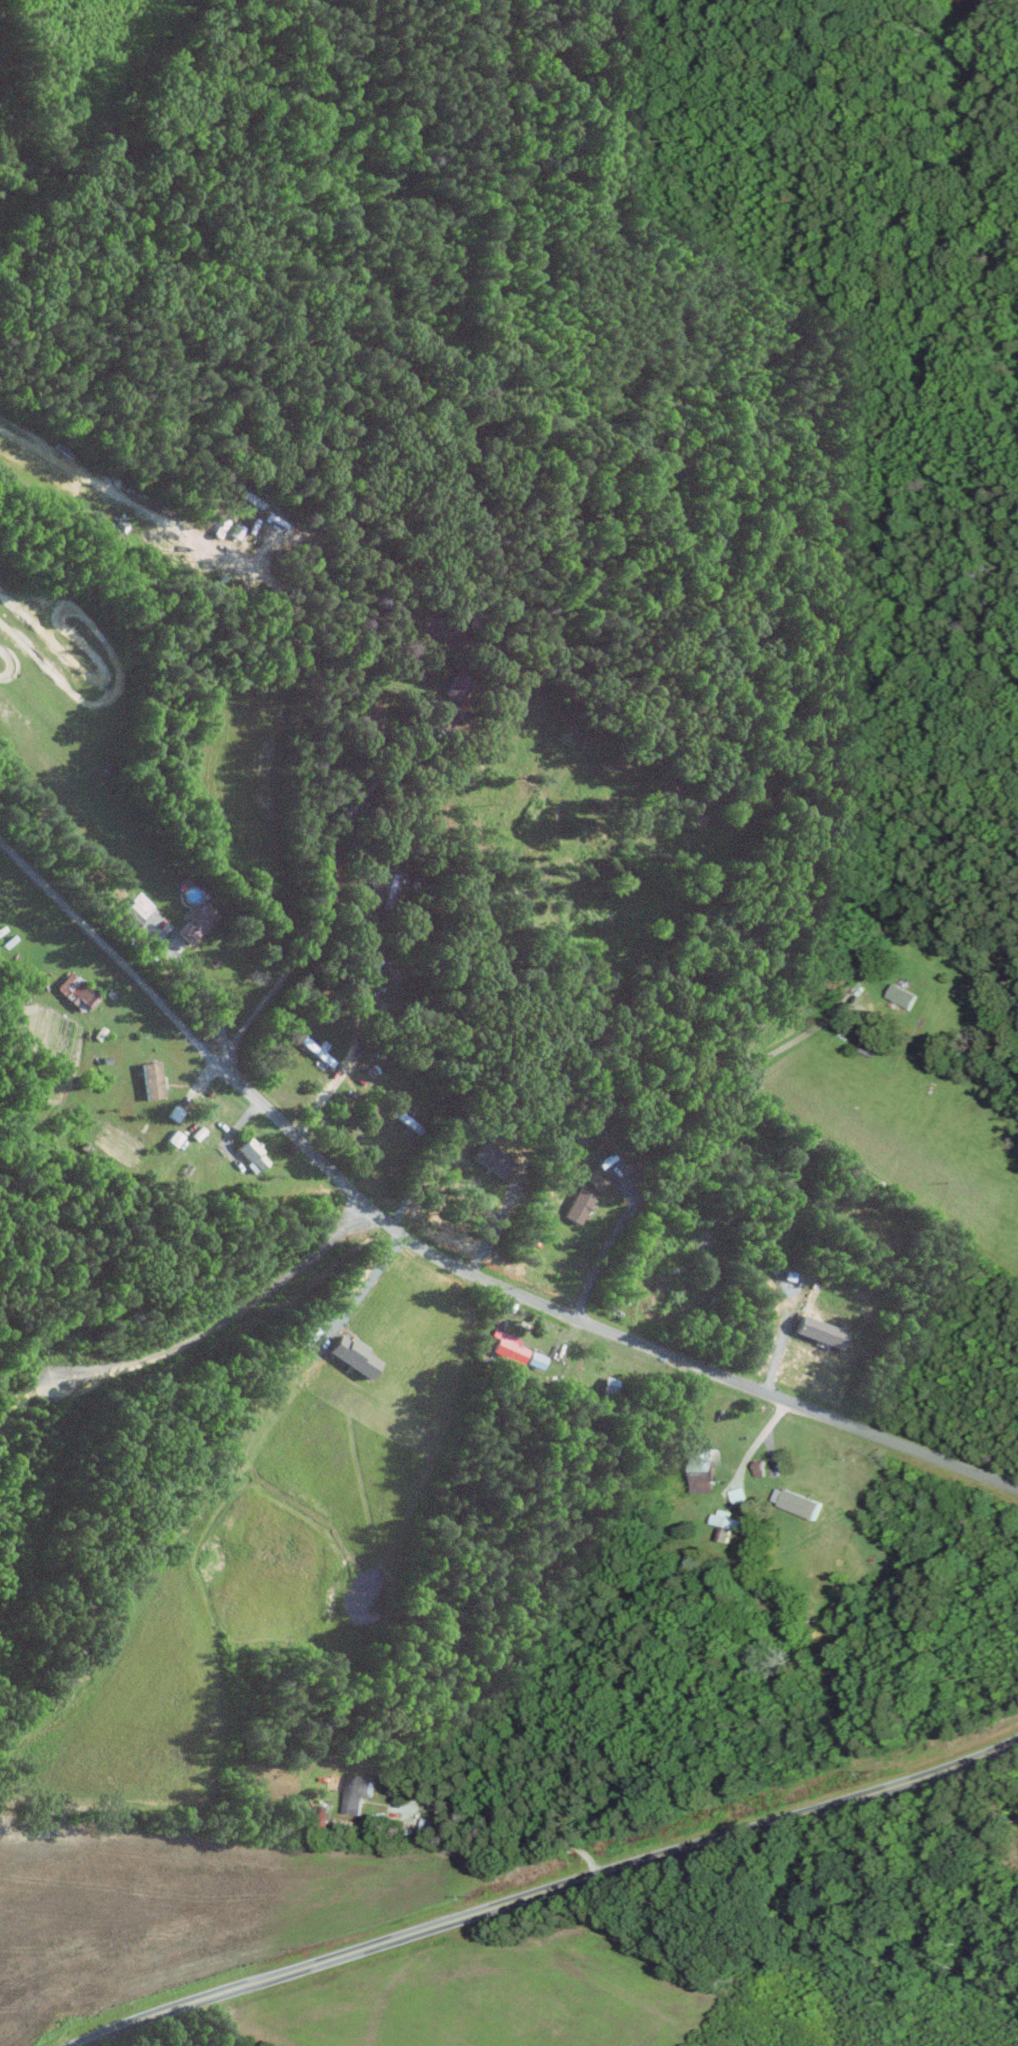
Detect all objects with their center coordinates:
building: (457, 689)
road: (321, 898)
building: (194, 923)
road: (110, 951)
building: (74, 992)
road: (209, 995)
building: (902, 995)
building: (867, 1044)
building: (316, 1049)
building: (150, 1080)
building: (175, 1114)
building: (174, 1138)
road: (687, 1146)
building: (251, 1154)
building: (490, 1159)
building: (595, 1178)
road: (345, 1187)
road: (414, 1188)
building: (577, 1206)
road: (494, 1228)
road: (365, 1286)
road: (223, 1321)
building: (819, 1332)
building: (509, 1352)
building: (536, 1361)
building: (608, 1388)
road: (752, 1388)
road: (759, 1441)
building: (758, 1467)
building: (703, 1470)
building: (737, 1495)
building: (796, 1502)
building: (726, 1524)
building: (357, 1794)
road: (516, 1828)
road: (546, 1889)

